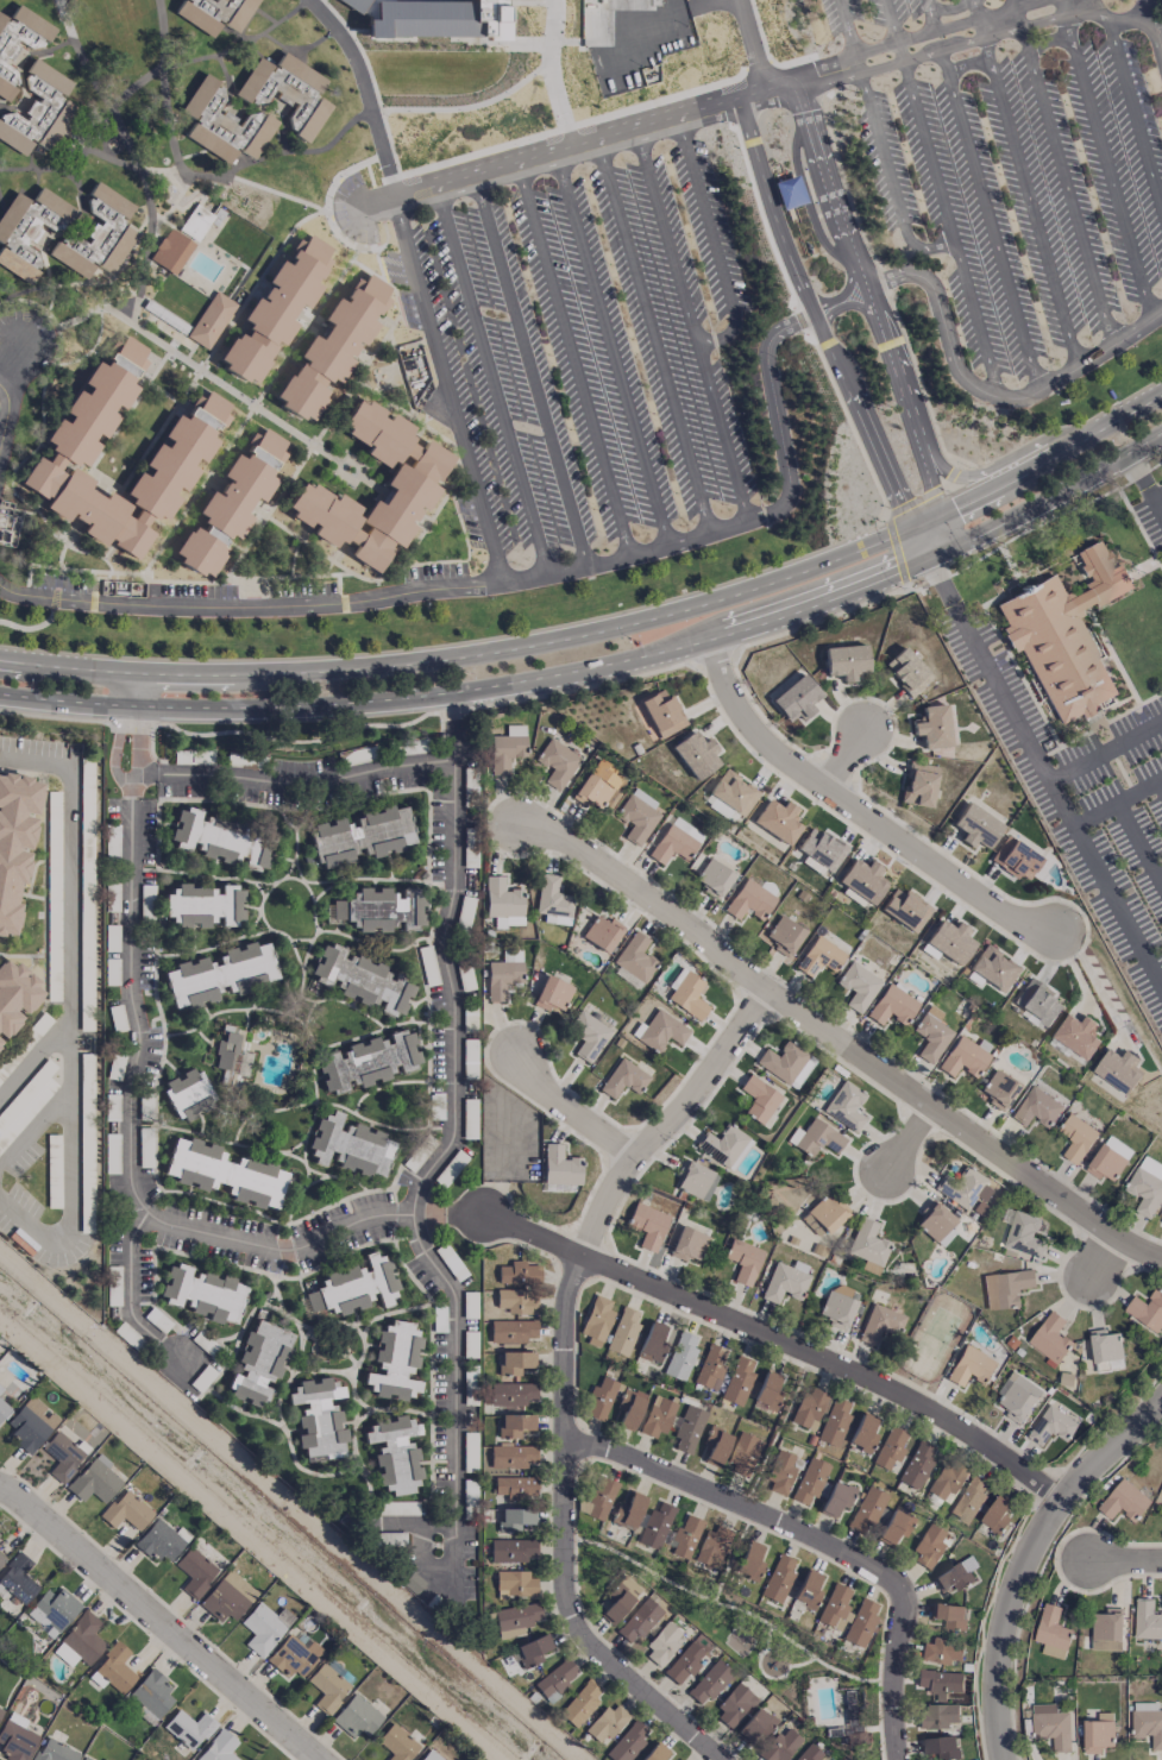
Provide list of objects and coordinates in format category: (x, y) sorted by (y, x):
road: (1059, 1)
road: (1062, 1)
road: (1070, 1)
building: (354, 5)
road: (1031, 5)
road: (1017, 7)
road: (950, 8)
parking lot: (883, 12)
building: (215, 13)
road: (976, 13)
road: (934, 14)
road: (1118, 15)
building: (436, 18)
road: (1043, 18)
road: (891, 20)
road: (1155, 20)
road: (1000, 21)
road: (915, 36)
road: (1048, 40)
road: (755, 45)
road: (900, 51)
building: (7, 54)
road: (923, 56)
road: (78, 57)
road: (548, 64)
road: (969, 64)
road: (153, 70)
road: (372, 82)
road: (161, 84)
road: (364, 90)
building: (288, 93)
road: (1133, 106)
building: (38, 112)
building: (224, 126)
road: (569, 126)
road: (626, 132)
road: (880, 143)
road: (1107, 159)
road: (233, 168)
road: (37, 169)
road: (1066, 178)
building: (791, 193)
parking lot: (1026, 194)
road: (1030, 195)
road: (289, 196)
road: (375, 202)
road: (149, 212)
road: (992, 219)
building: (196, 222)
road: (950, 228)
building: (29, 231)
building: (99, 237)
road: (716, 240)
building: (172, 251)
road: (873, 301)
building: (276, 310)
building: (212, 320)
road: (816, 320)
road: (695, 323)
road: (652, 335)
building: (332, 348)
road: (610, 348)
parking lot: (583, 351)
road: (178, 356)
road: (572, 359)
road: (529, 371)
road: (491, 381)
road: (446, 388)
road: (988, 394)
road: (6, 413)
road: (320, 432)
building: (188, 451)
road: (1044, 463)
road: (988, 466)
building: (283, 469)
road: (1144, 484)
building: (410, 485)
road: (1156, 492)
building: (231, 504)
building: (8, 523)
road: (930, 538)
road: (535, 574)
road: (819, 598)
building: (1064, 634)
road: (472, 654)
building: (846, 661)
building: (906, 671)
building: (796, 699)
road: (225, 708)
building: (662, 714)
road: (453, 724)
building: (932, 727)
road: (1106, 748)
building: (504, 752)
building: (696, 754)
road: (844, 761)
building: (557, 763)
road: (1044, 767)
road: (1161, 782)
road: (294, 785)
building: (596, 785)
building: (918, 785)
building: (729, 797)
road: (1119, 803)
road: (855, 811)
building: (639, 816)
building: (777, 819)
building: (975, 826)
building: (362, 836)
building: (222, 840)
building: (676, 841)
road: (1139, 841)
building: (15, 842)
building: (819, 851)
building: (1016, 859)
building: (714, 878)
building: (862, 879)
building: (749, 900)
building: (553, 901)
building: (503, 903)
building: (205, 905)
building: (905, 909)
building: (382, 910)
building: (602, 932)
building: (784, 935)
building: (949, 941)
building: (819, 956)
building: (635, 957)
building: (993, 968)
building: (220, 974)
building: (503, 974)
building: (360, 980)
road: (1093, 982)
building: (858, 986)
building: (686, 993)
building: (552, 994)
building: (14, 995)
building: (1038, 1001)
building: (892, 1006)
road: (67, 1010)
building: (659, 1031)
parking lot: (55, 1032)
building: (931, 1033)
building: (1076, 1035)
road: (138, 1036)
building: (586, 1036)
road: (846, 1045)
building: (226, 1054)
road: (30, 1057)
building: (963, 1058)
building: (368, 1061)
building: (785, 1063)
building: (1117, 1069)
building: (623, 1079)
building: (999, 1089)
building: (187, 1093)
building: (758, 1099)
building: (844, 1106)
building: (1036, 1107)
road: (571, 1112)
road: (667, 1120)
road: (33, 1129)
road: (452, 1129)
building: (1076, 1137)
building: (816, 1138)
road: (905, 1138)
building: (350, 1146)
building: (723, 1146)
building: (1108, 1158)
building: (560, 1167)
building: (225, 1173)
building: (695, 1181)
building: (1147, 1184)
building: (823, 1214)
building: (934, 1220)
building: (1161, 1221)
building: (648, 1225)
building: (1024, 1233)
building: (944, 1236)
building: (867, 1243)
building: (687, 1244)
building: (743, 1261)
road: (1103, 1271)
building: (519, 1272)
building: (786, 1281)
building: (354, 1287)
building: (1005, 1288)
building: (202, 1293)
building: (516, 1301)
building: (837, 1306)
building: (1147, 1309)
building: (597, 1319)
building: (880, 1324)
building: (511, 1331)
building: (623, 1332)
building: (1050, 1337)
building: (652, 1343)
building: (1105, 1344)
road: (778, 1347)
building: (680, 1357)
building: (395, 1362)
building: (515, 1362)
building: (258, 1363)
building: (971, 1365)
building: (711, 1366)
building: (737, 1381)
building: (767, 1391)
building: (511, 1394)
building: (1018, 1396)
building: (602, 1397)
road: (456, 1401)
building: (629, 1408)
building: (4, 1409)
building: (808, 1409)
building: (657, 1416)
building: (318, 1419)
building: (834, 1422)
building: (515, 1425)
building: (1051, 1425)
building: (27, 1428)
building: (687, 1429)
building: (862, 1433)
building: (715, 1446)
building: (890, 1448)
road: (1112, 1450)
building: (395, 1453)
building: (743, 1454)
building: (61, 1456)
building: (513, 1456)
building: (916, 1465)
building: (780, 1472)
building: (946, 1479)
building: (94, 1481)
building: (809, 1482)
building: (515, 1486)
building: (599, 1497)
building: (969, 1497)
building: (836, 1498)
building: (1123, 1501)
building: (867, 1510)
building: (126, 1511)
building: (627, 1511)
building: (995, 1514)
building: (515, 1519)
building: (655, 1526)
building: (894, 1527)
building: (685, 1535)
road: (565, 1538)
building: (158, 1541)
building: (712, 1546)
building: (929, 1547)
building: (511, 1550)
road: (815, 1551)
building: (1, 1558)
building: (749, 1561)
road: (1124, 1566)
building: (194, 1572)
building: (778, 1578)
building: (18, 1579)
building: (514, 1584)
building: (806, 1591)
building: (227, 1597)
building: (622, 1597)
building: (835, 1608)
building: (54, 1609)
building: (949, 1615)
building: (1147, 1618)
road: (161, 1620)
building: (515, 1620)
building: (639, 1621)
building: (861, 1622)
road: (1003, 1622)
building: (262, 1629)
building: (1107, 1629)
building: (1051, 1632)
building: (80, 1641)
building: (662, 1643)
building: (532, 1649)
building: (941, 1649)
building: (294, 1654)
building: (684, 1662)
building: (115, 1667)
building: (557, 1679)
building: (709, 1682)
building: (940, 1682)
building: (327, 1687)
building: (152, 1692)
building: (580, 1703)
building: (734, 1705)
building: (0, 1711)
building: (356, 1716)
building: (936, 1716)
building: (607, 1722)
building: (1147, 1722)
building: (1051, 1724)
building: (754, 1727)
building: (189, 1728)
building: (1098, 1733)
building: (15, 1737)
building: (628, 1741)
building: (397, 1743)
building: (780, 1745)
building: (938, 1747)
building: (219, 1748)
building: (54, 1750)
building: (654, 1753)
building: (809, 1753)
building: (429, 1755)
building: (84, 1758)
building: (679, 1759)

